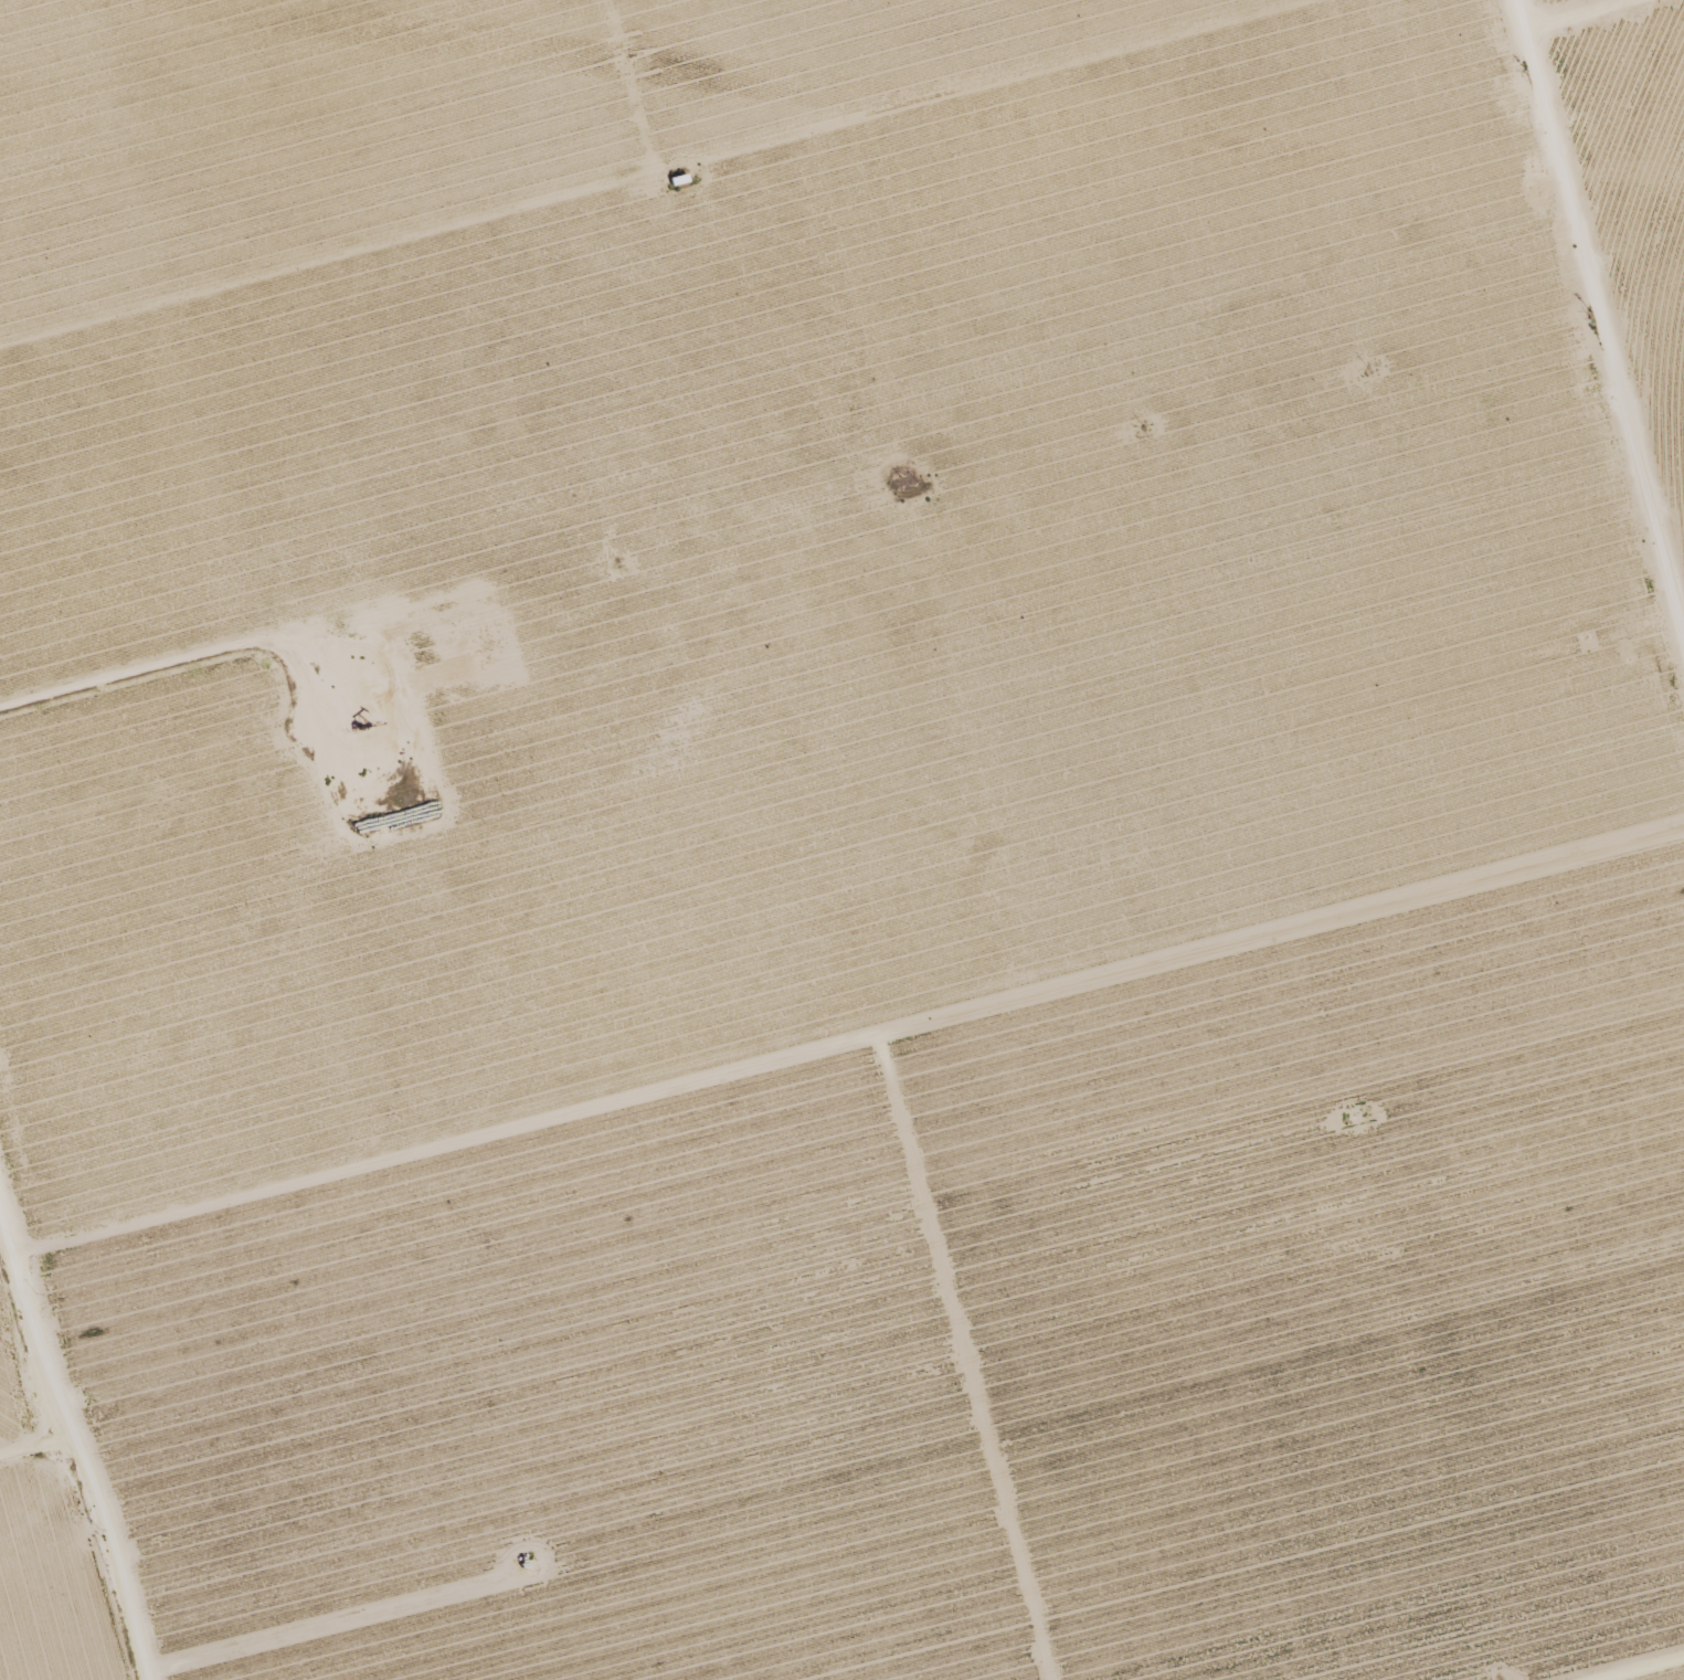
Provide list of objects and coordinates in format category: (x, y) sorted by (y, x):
road: (72, 1418)

